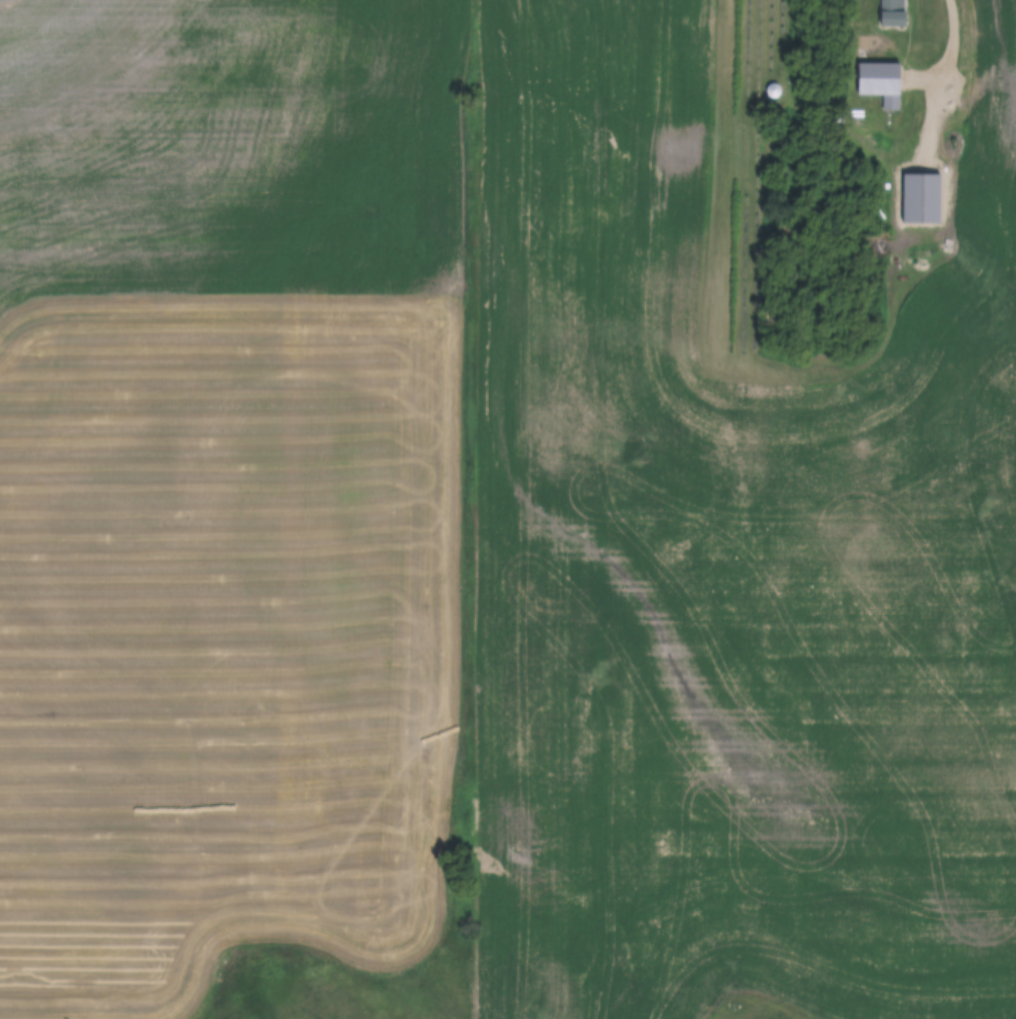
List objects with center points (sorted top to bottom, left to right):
building: (894, 14)
building: (883, 72)

